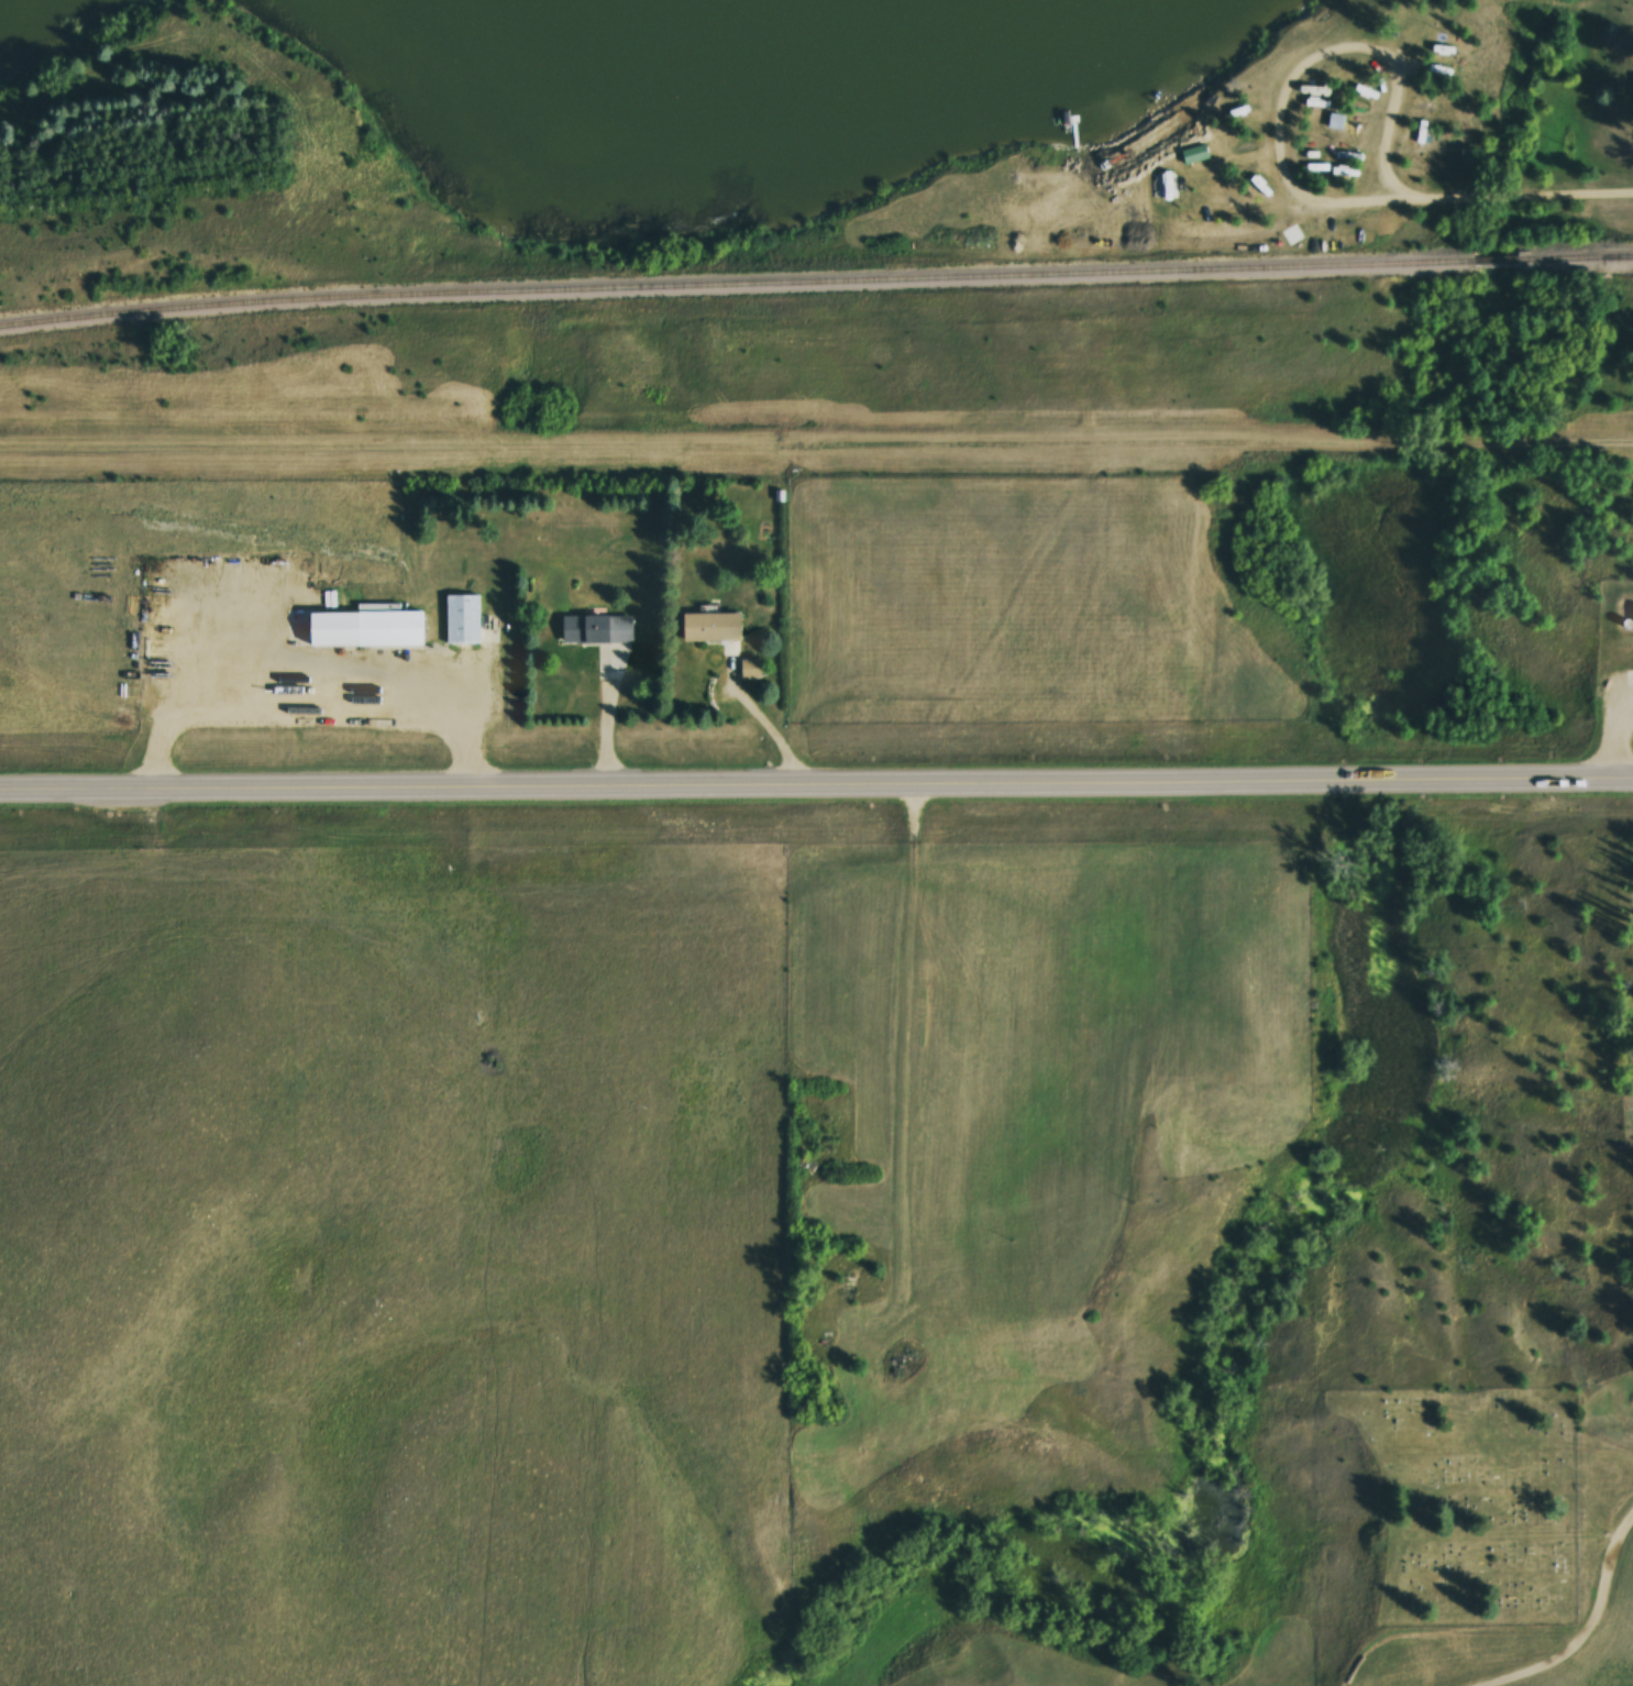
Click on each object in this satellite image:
building: (1333, 122)
building: (1192, 154)
railway: (1502, 258)
railway: (1582, 258)
railway: (1599, 260)
railway: (735, 284)
road: (1520, 449)
building: (459, 617)
building: (706, 626)
building: (385, 628)
building: (594, 628)
road: (816, 792)
river: (1386, 980)
road: (1597, 1629)

